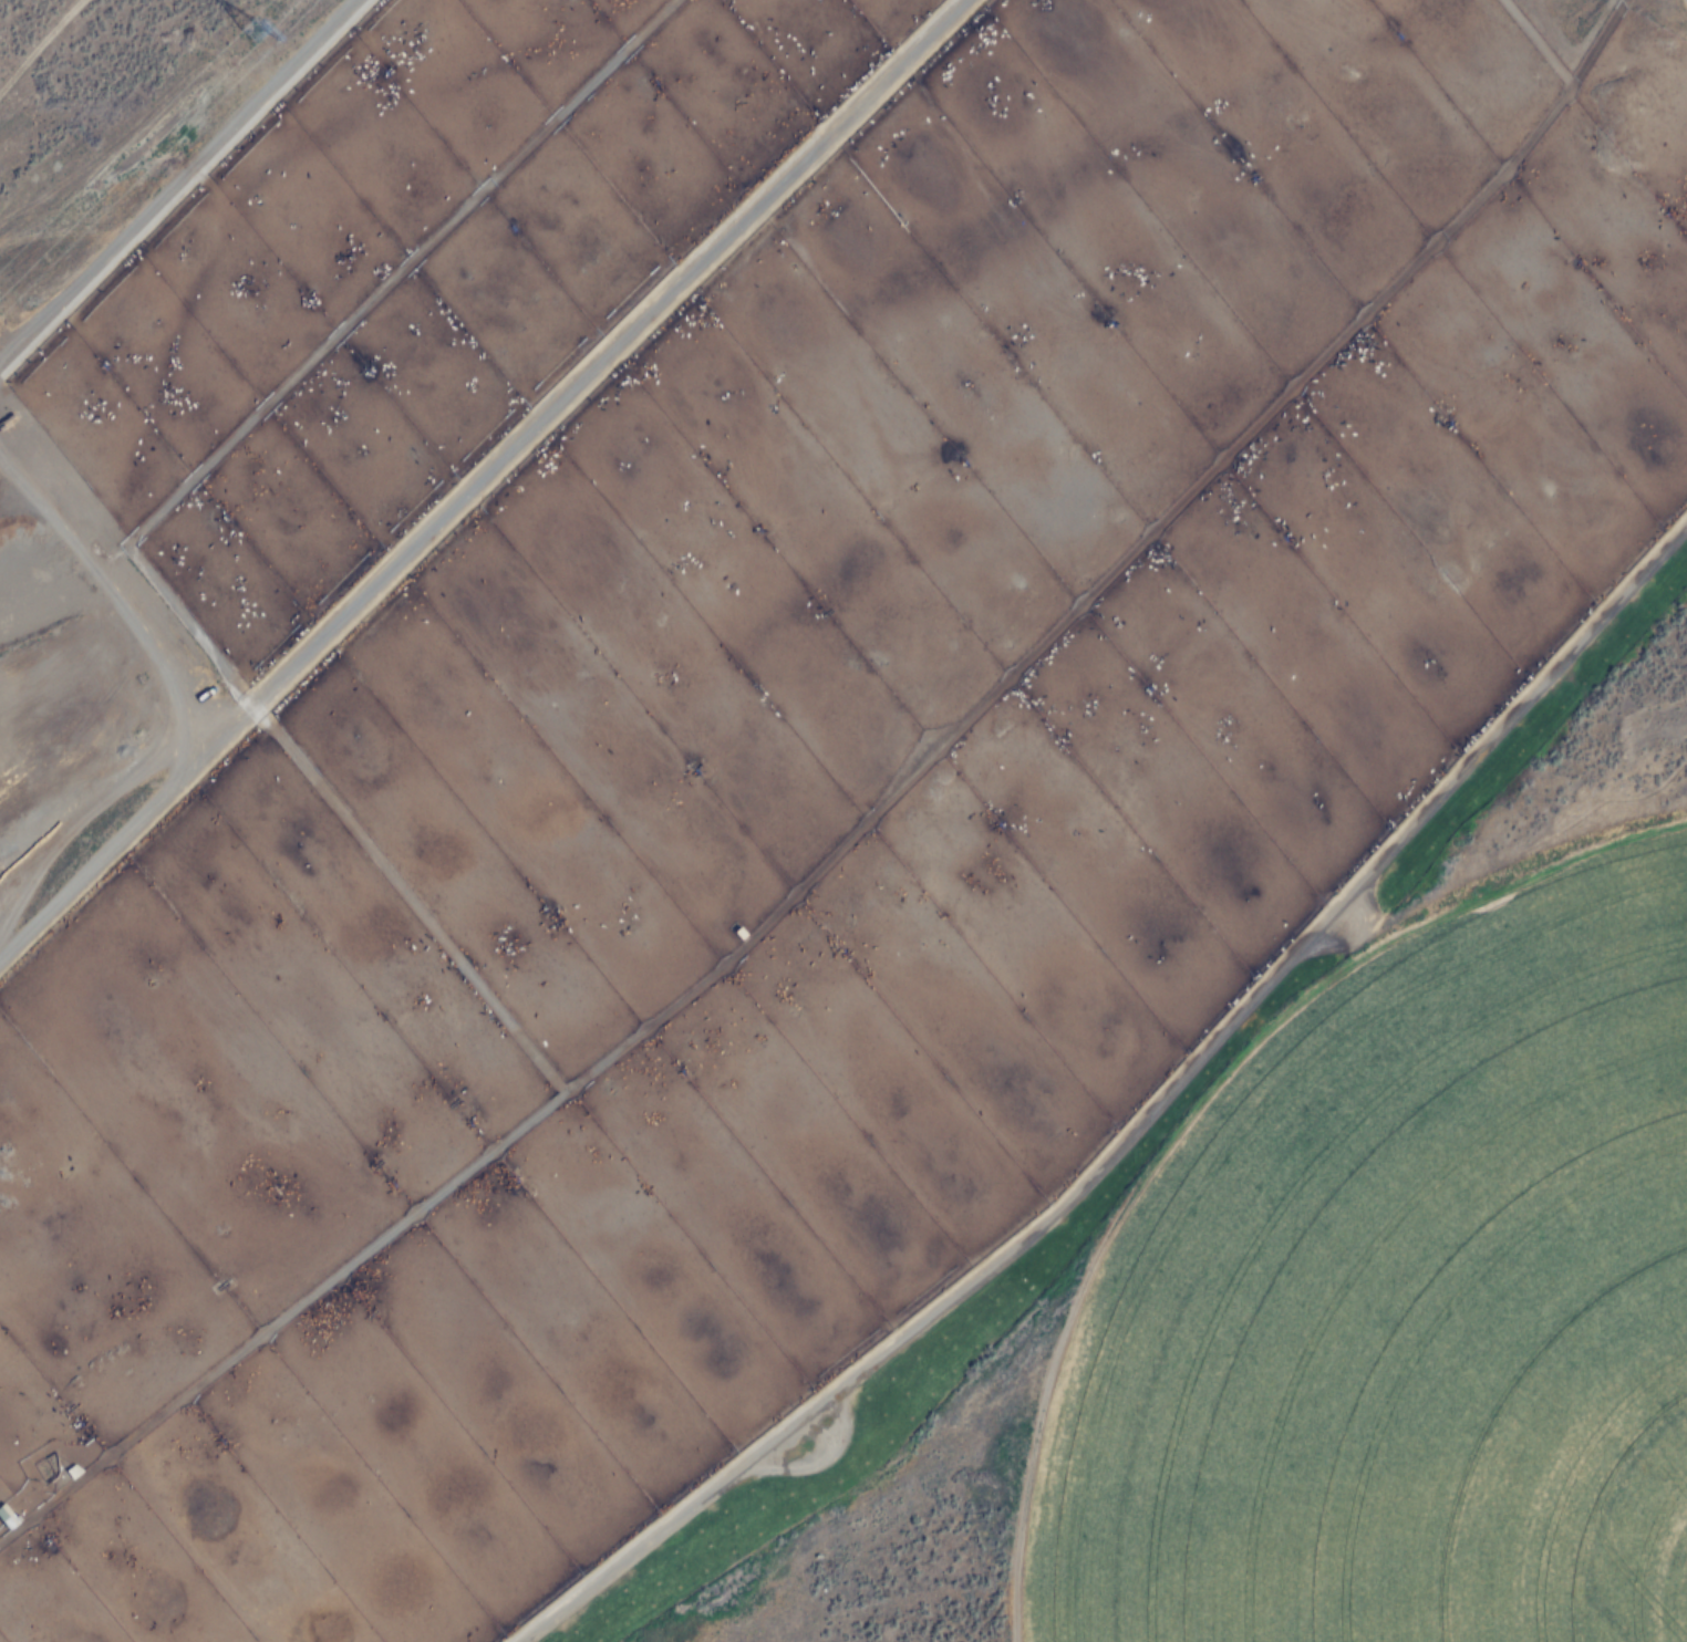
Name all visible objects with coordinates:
power tower: (247, 25)
building: (7, 1518)
building: (631, 1641)

